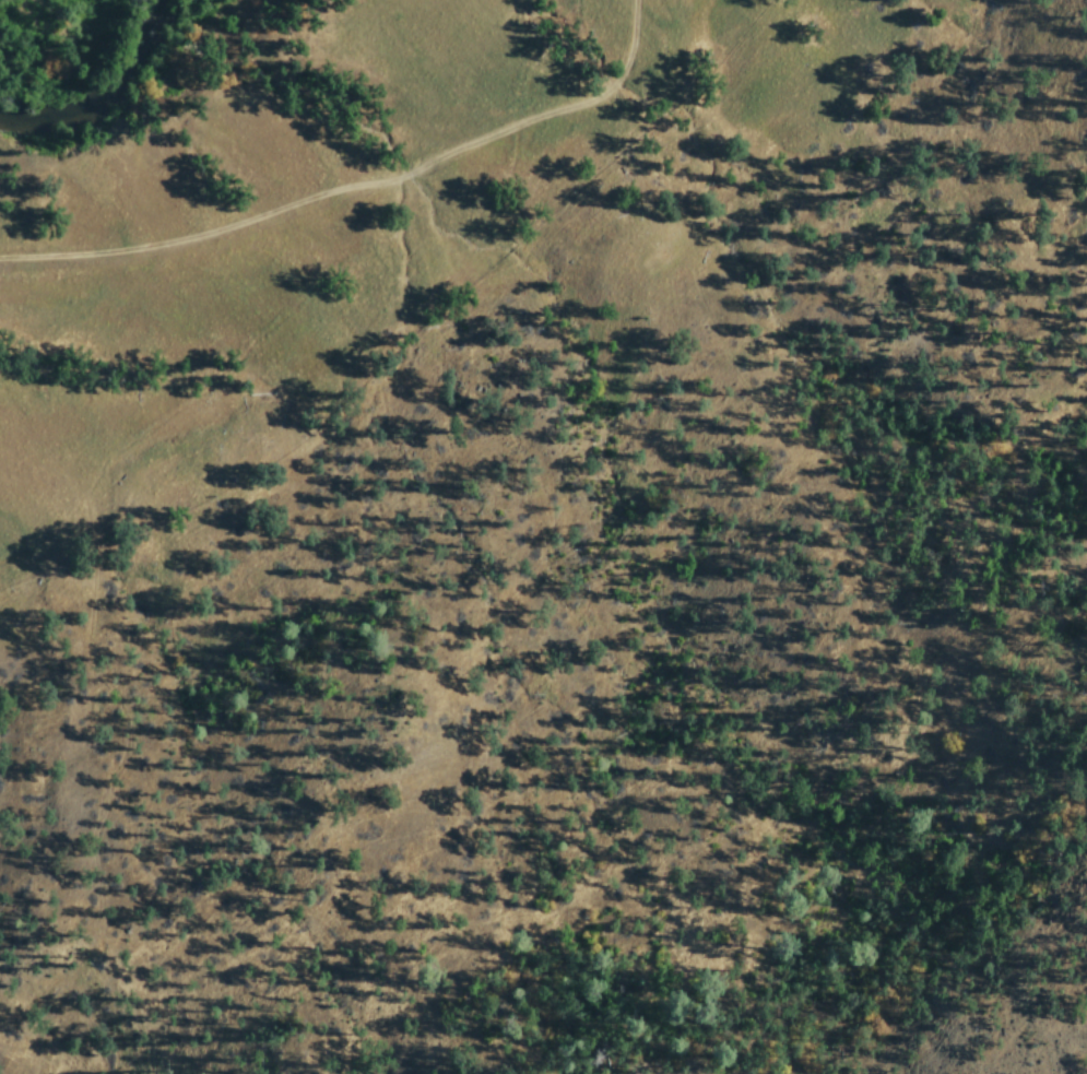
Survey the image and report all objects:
river: (110, 96)
road: (362, 189)

